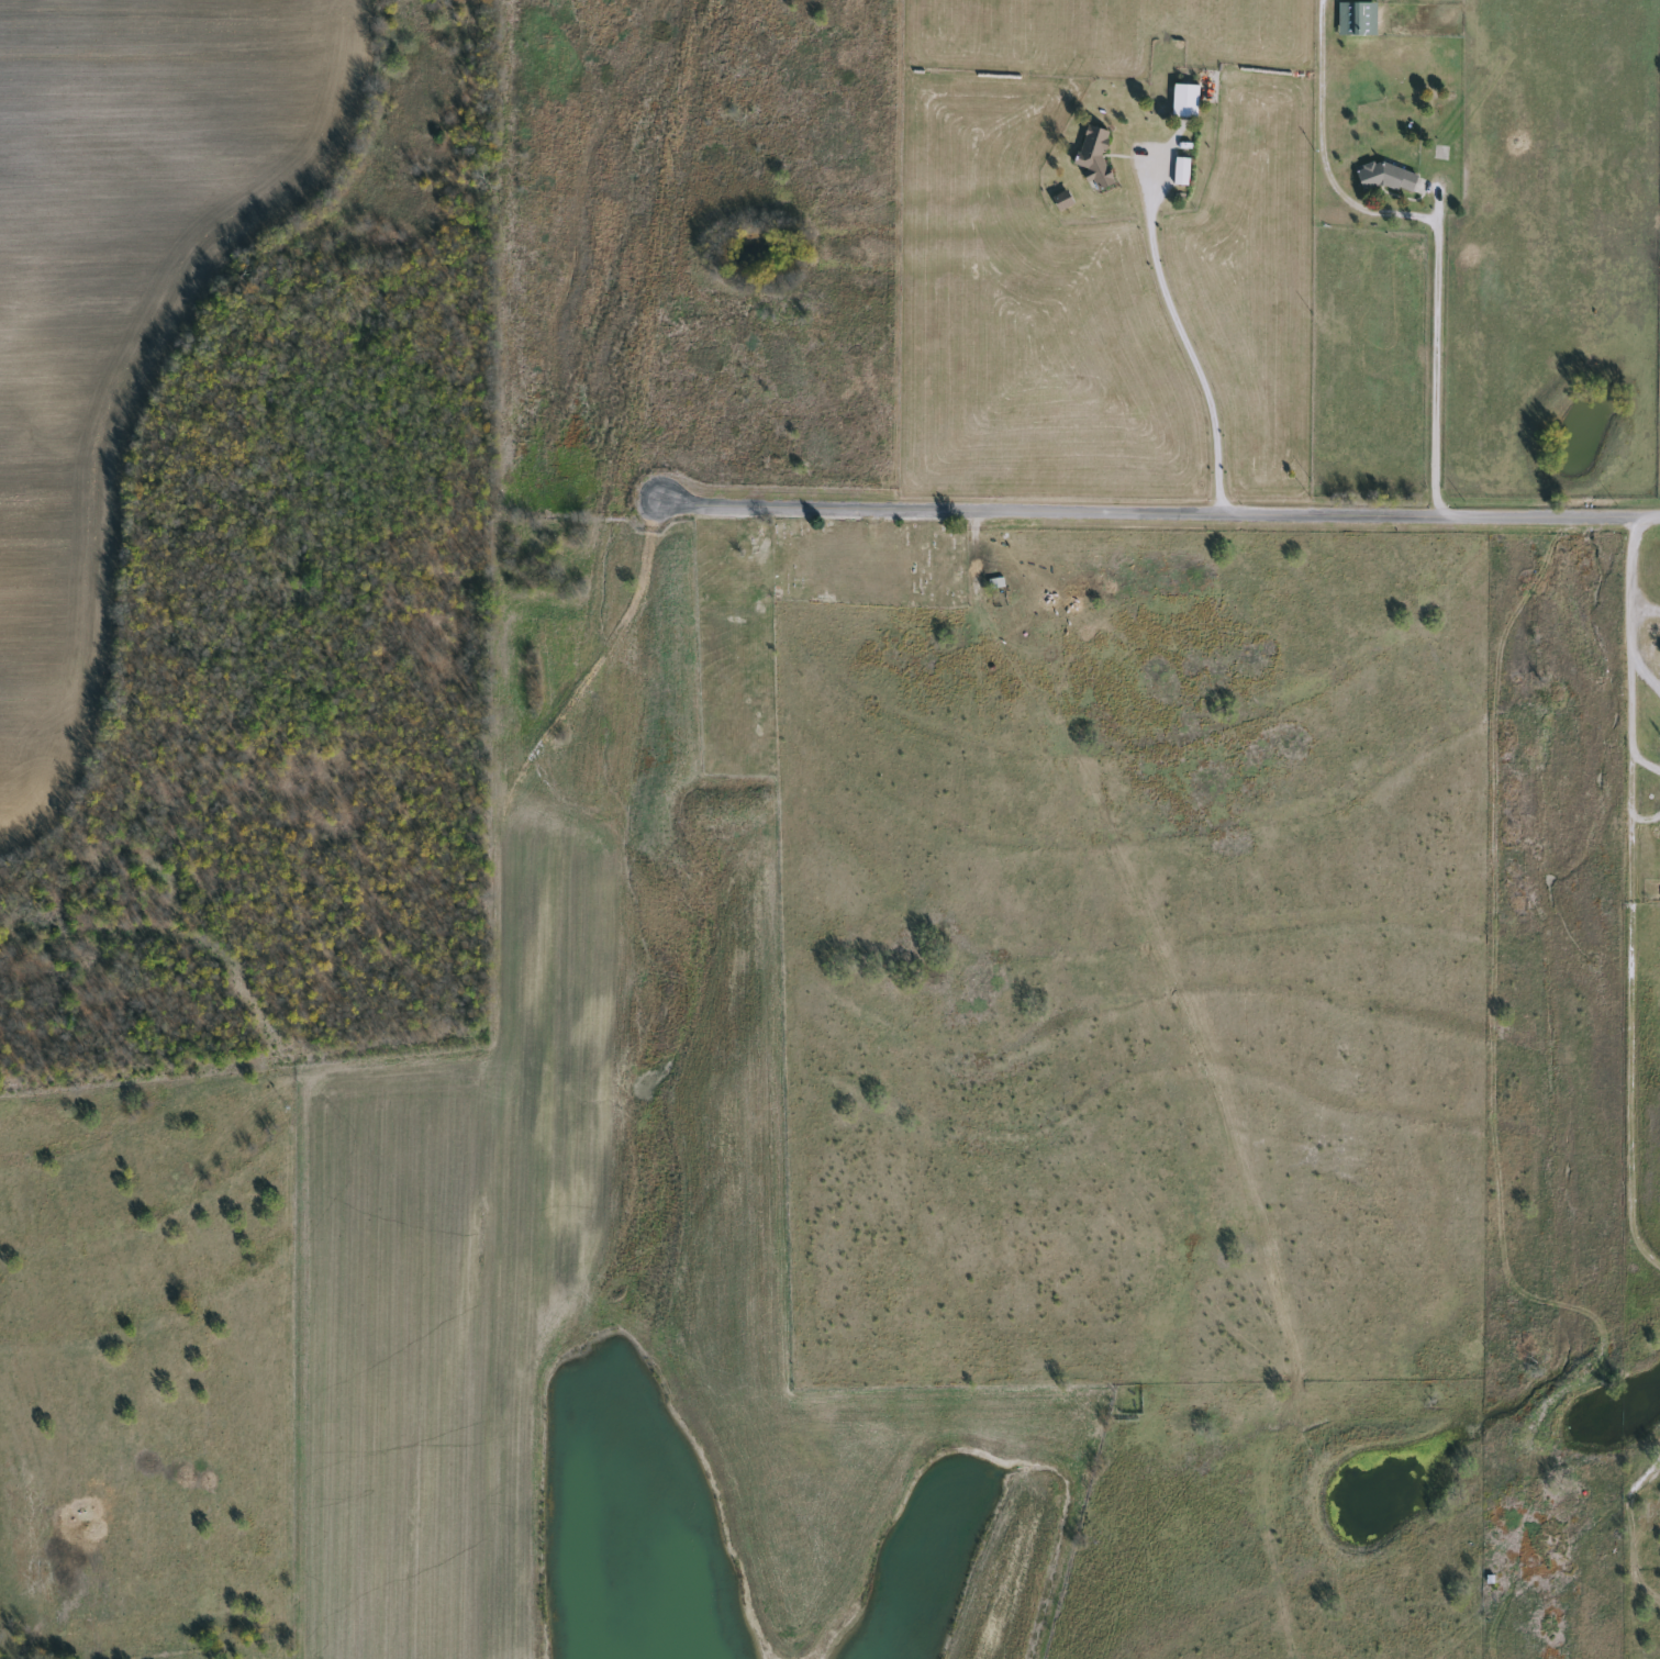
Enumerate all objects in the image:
building: (1355, 19)
building: (1183, 101)
building: (1093, 160)
building: (1179, 171)
building: (1386, 178)
road: (1426, 222)
road: (1183, 342)
road: (748, 509)
road: (1249, 514)
road: (1630, 872)

